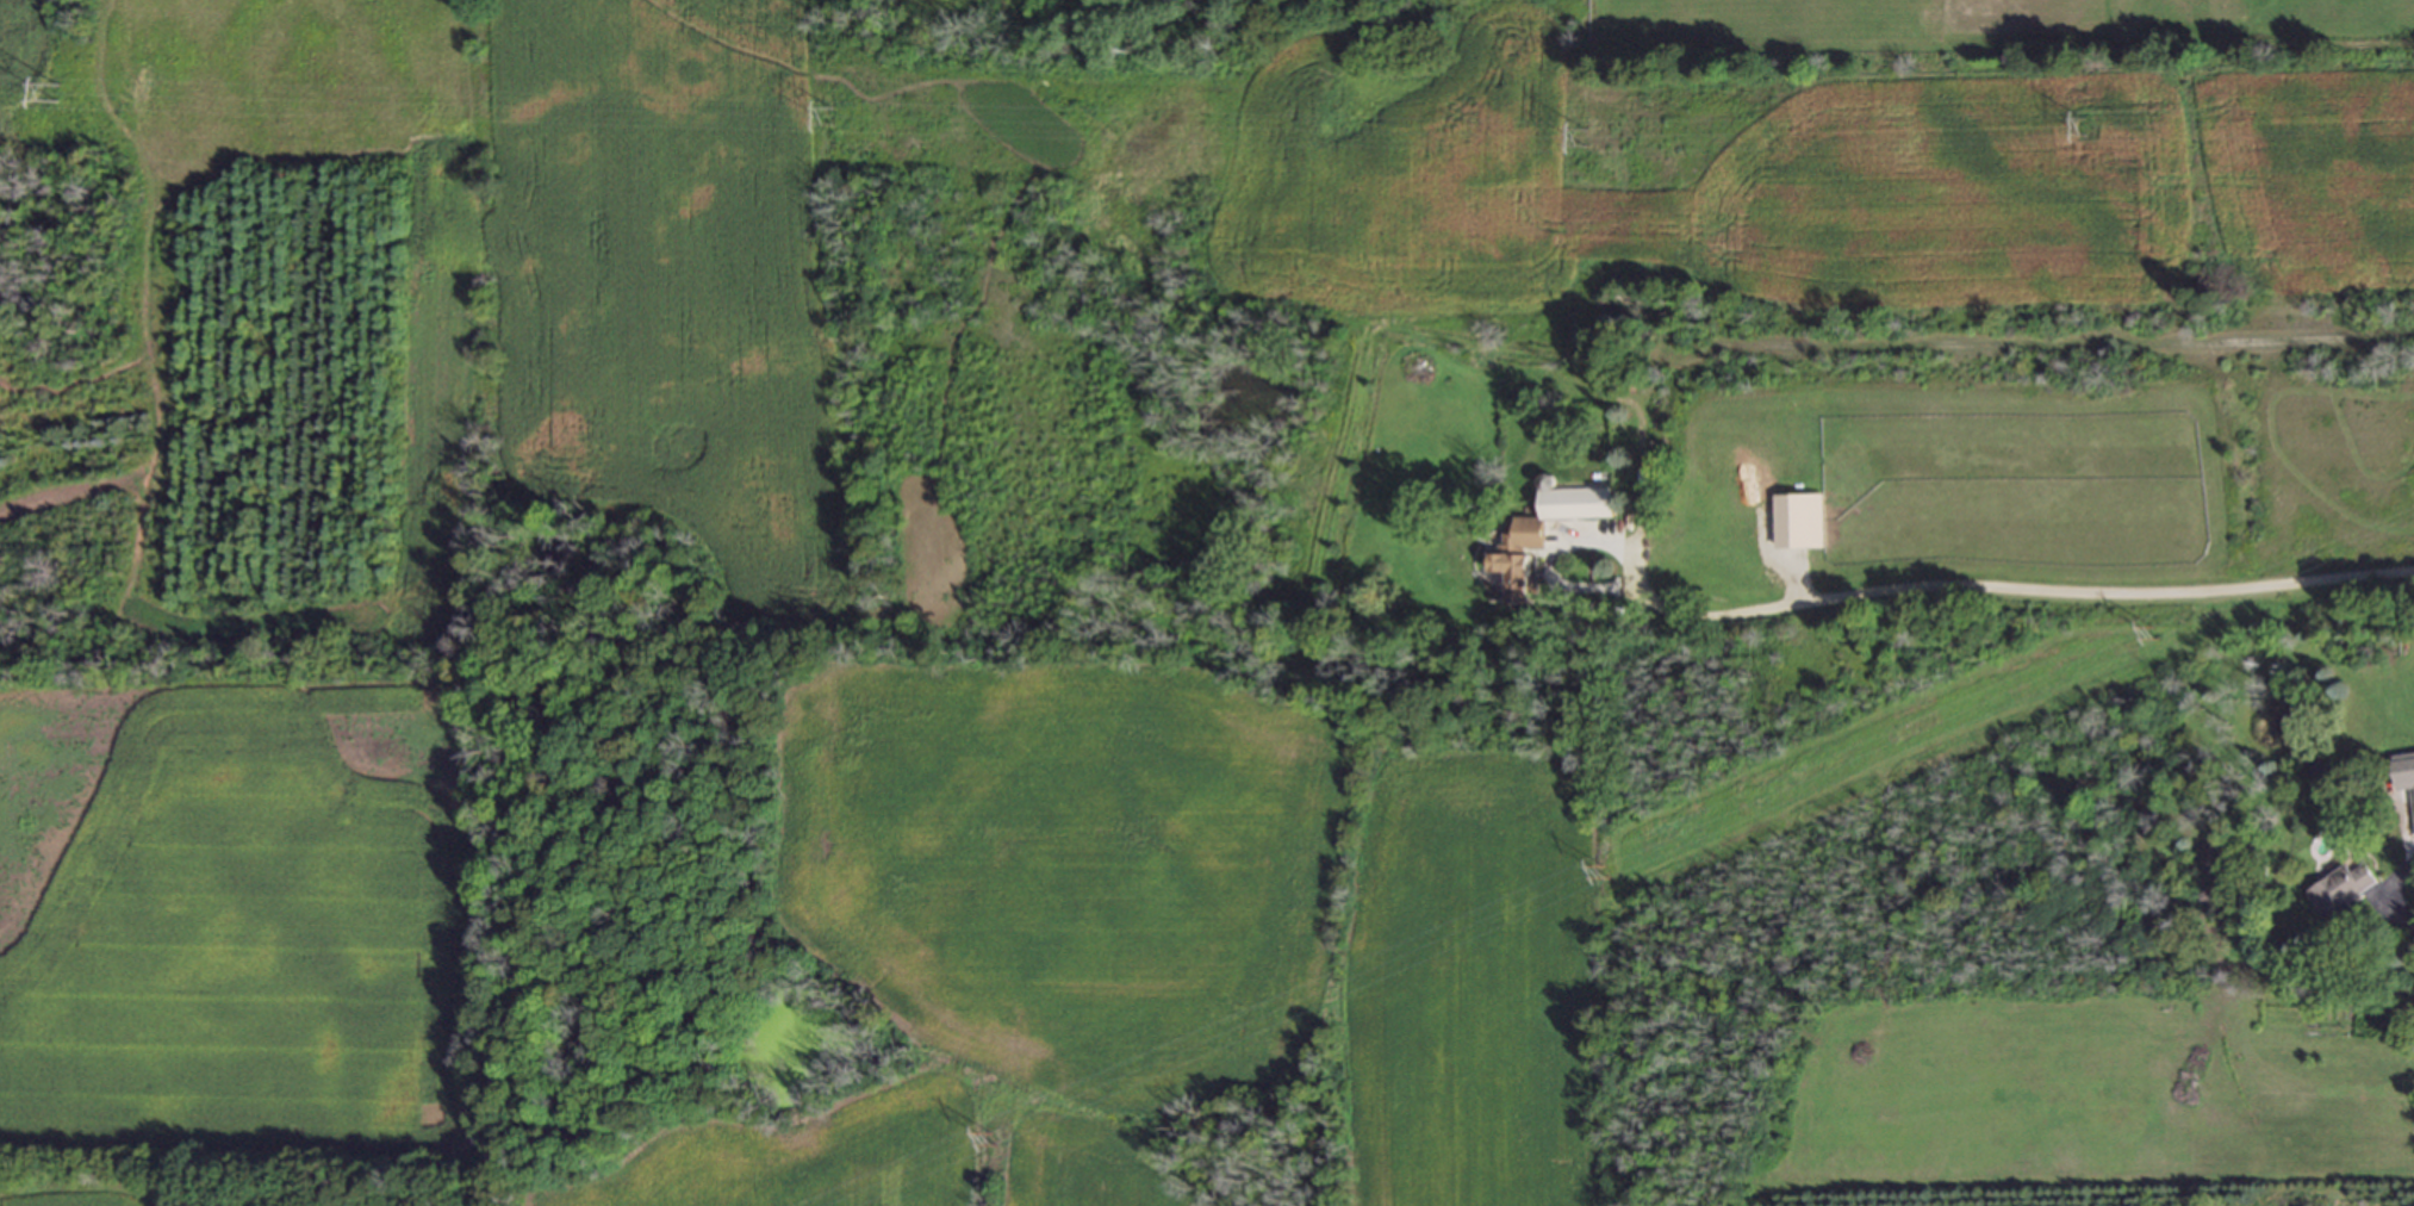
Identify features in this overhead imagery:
road: (2254, 46)
power tower: (56, 95)
power tower: (829, 117)
power tower: (2082, 129)
power tower: (1580, 137)
road: (1644, 485)
building: (1545, 535)
power tower: (2153, 633)
building: (2404, 772)
power tower: (1600, 872)
building: (2341, 896)
road: (2397, 913)
power tower: (991, 1142)

